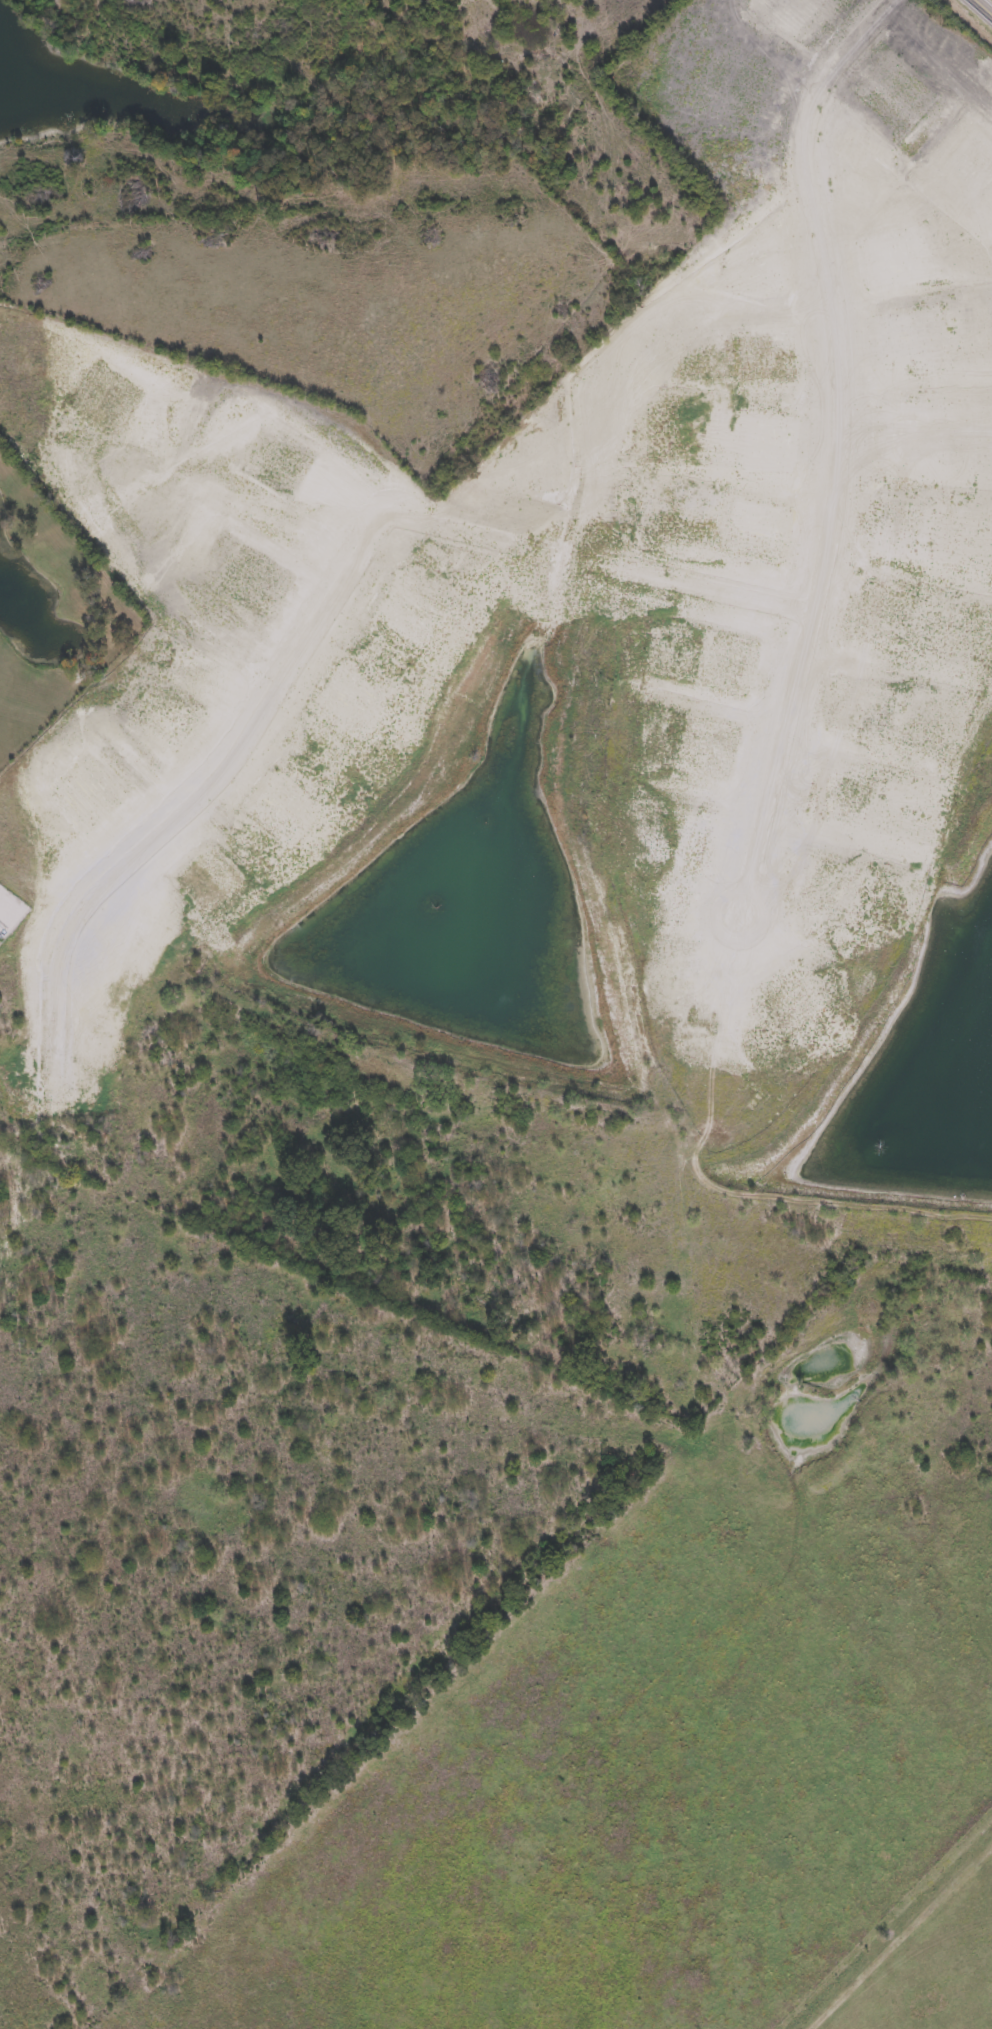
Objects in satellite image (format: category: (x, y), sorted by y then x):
road: (978, 13)

